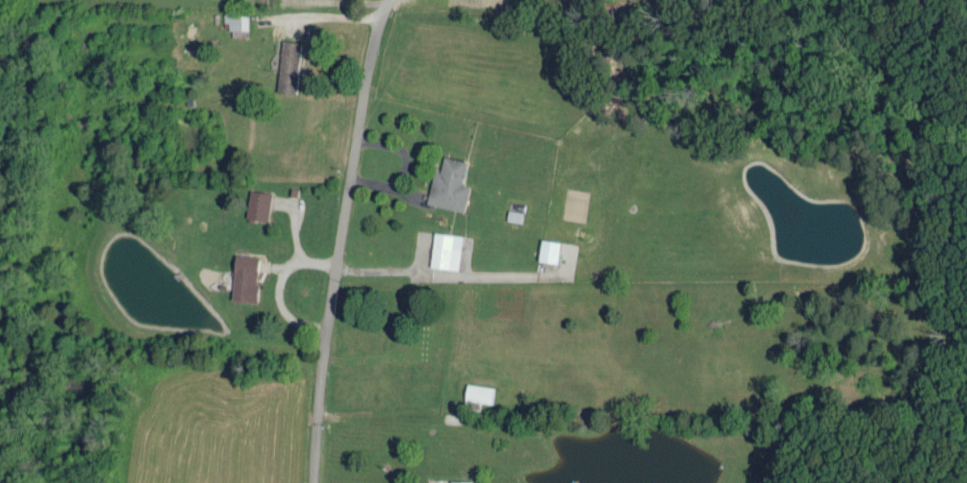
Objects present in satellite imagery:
building: (236, 18)
building: (288, 64)
building: (448, 183)
building: (257, 203)
road: (340, 239)
building: (445, 248)
building: (548, 248)
building: (244, 275)
building: (460, 480)
building: (573, 481)

